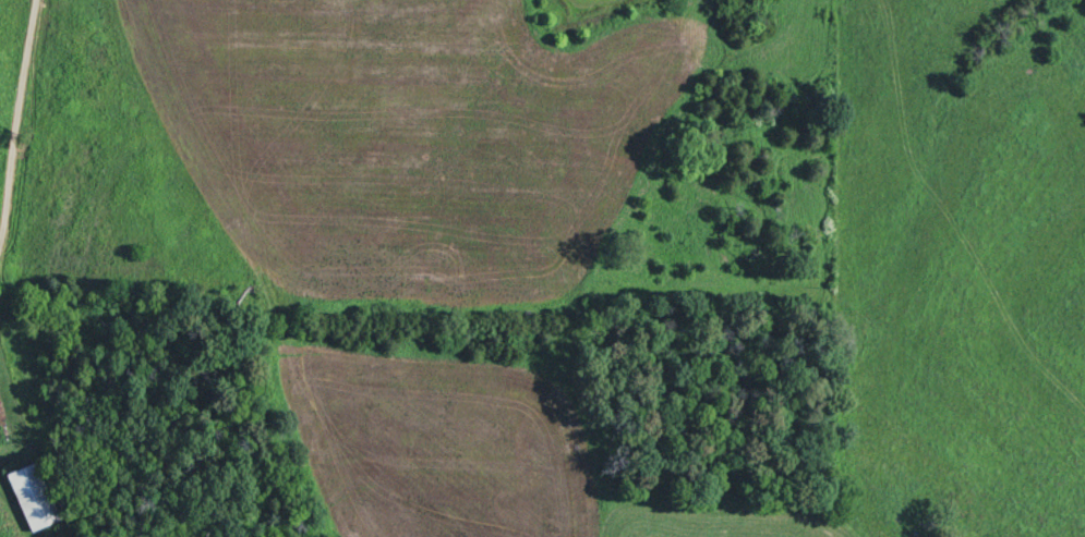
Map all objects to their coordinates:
road: (16, 120)
building: (34, 499)

